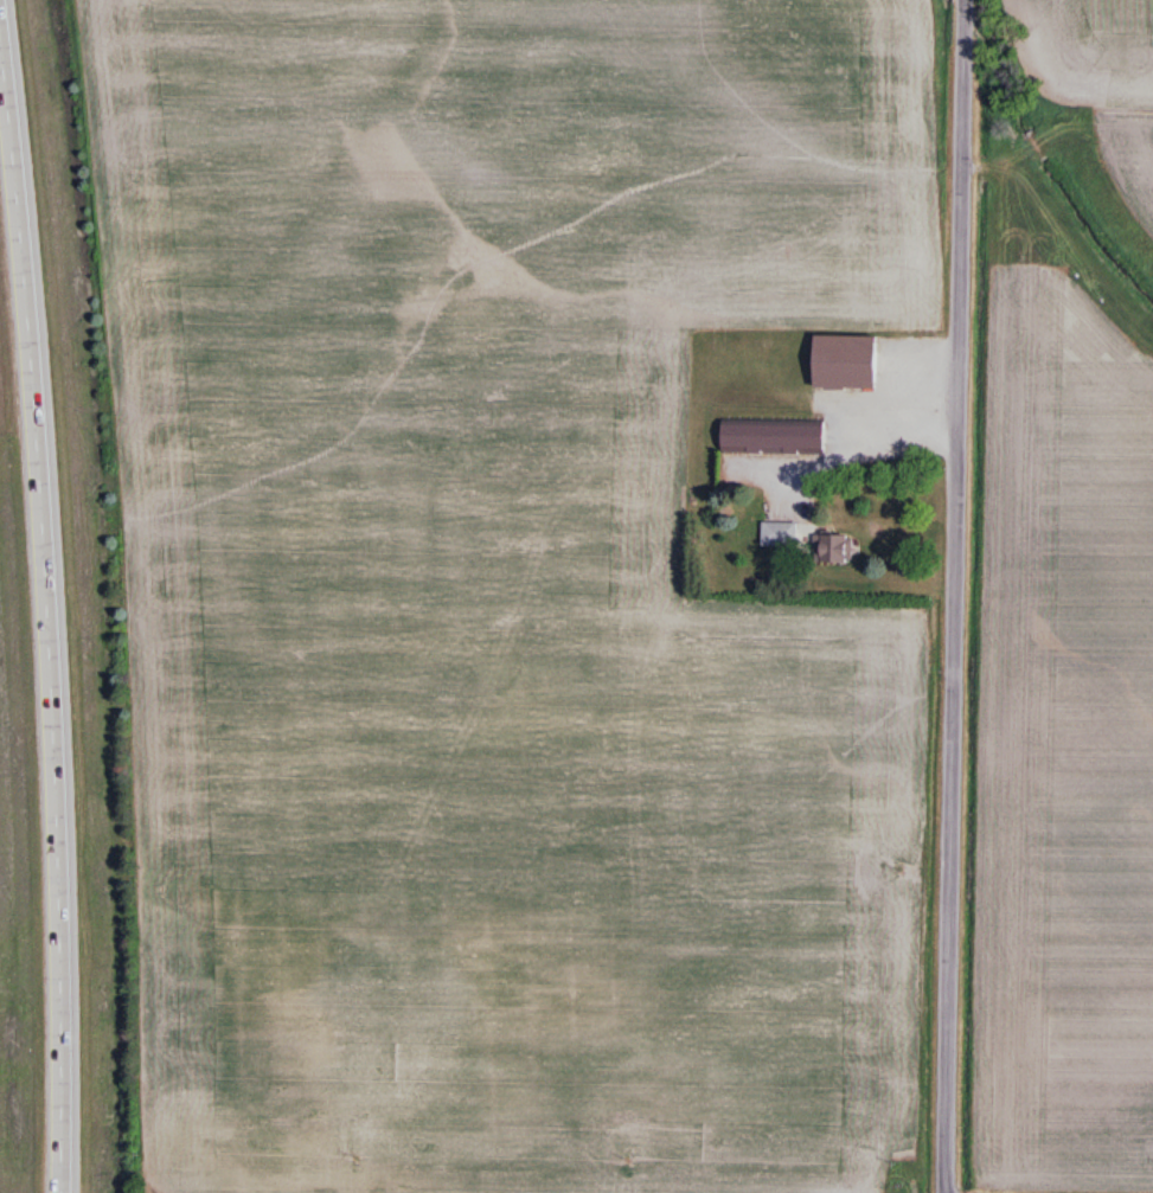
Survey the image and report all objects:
building: (845, 364)
building: (773, 438)
road: (851, 441)
building: (780, 535)
building: (833, 551)
road: (953, 596)
road: (52, 603)
road: (417, 1189)

